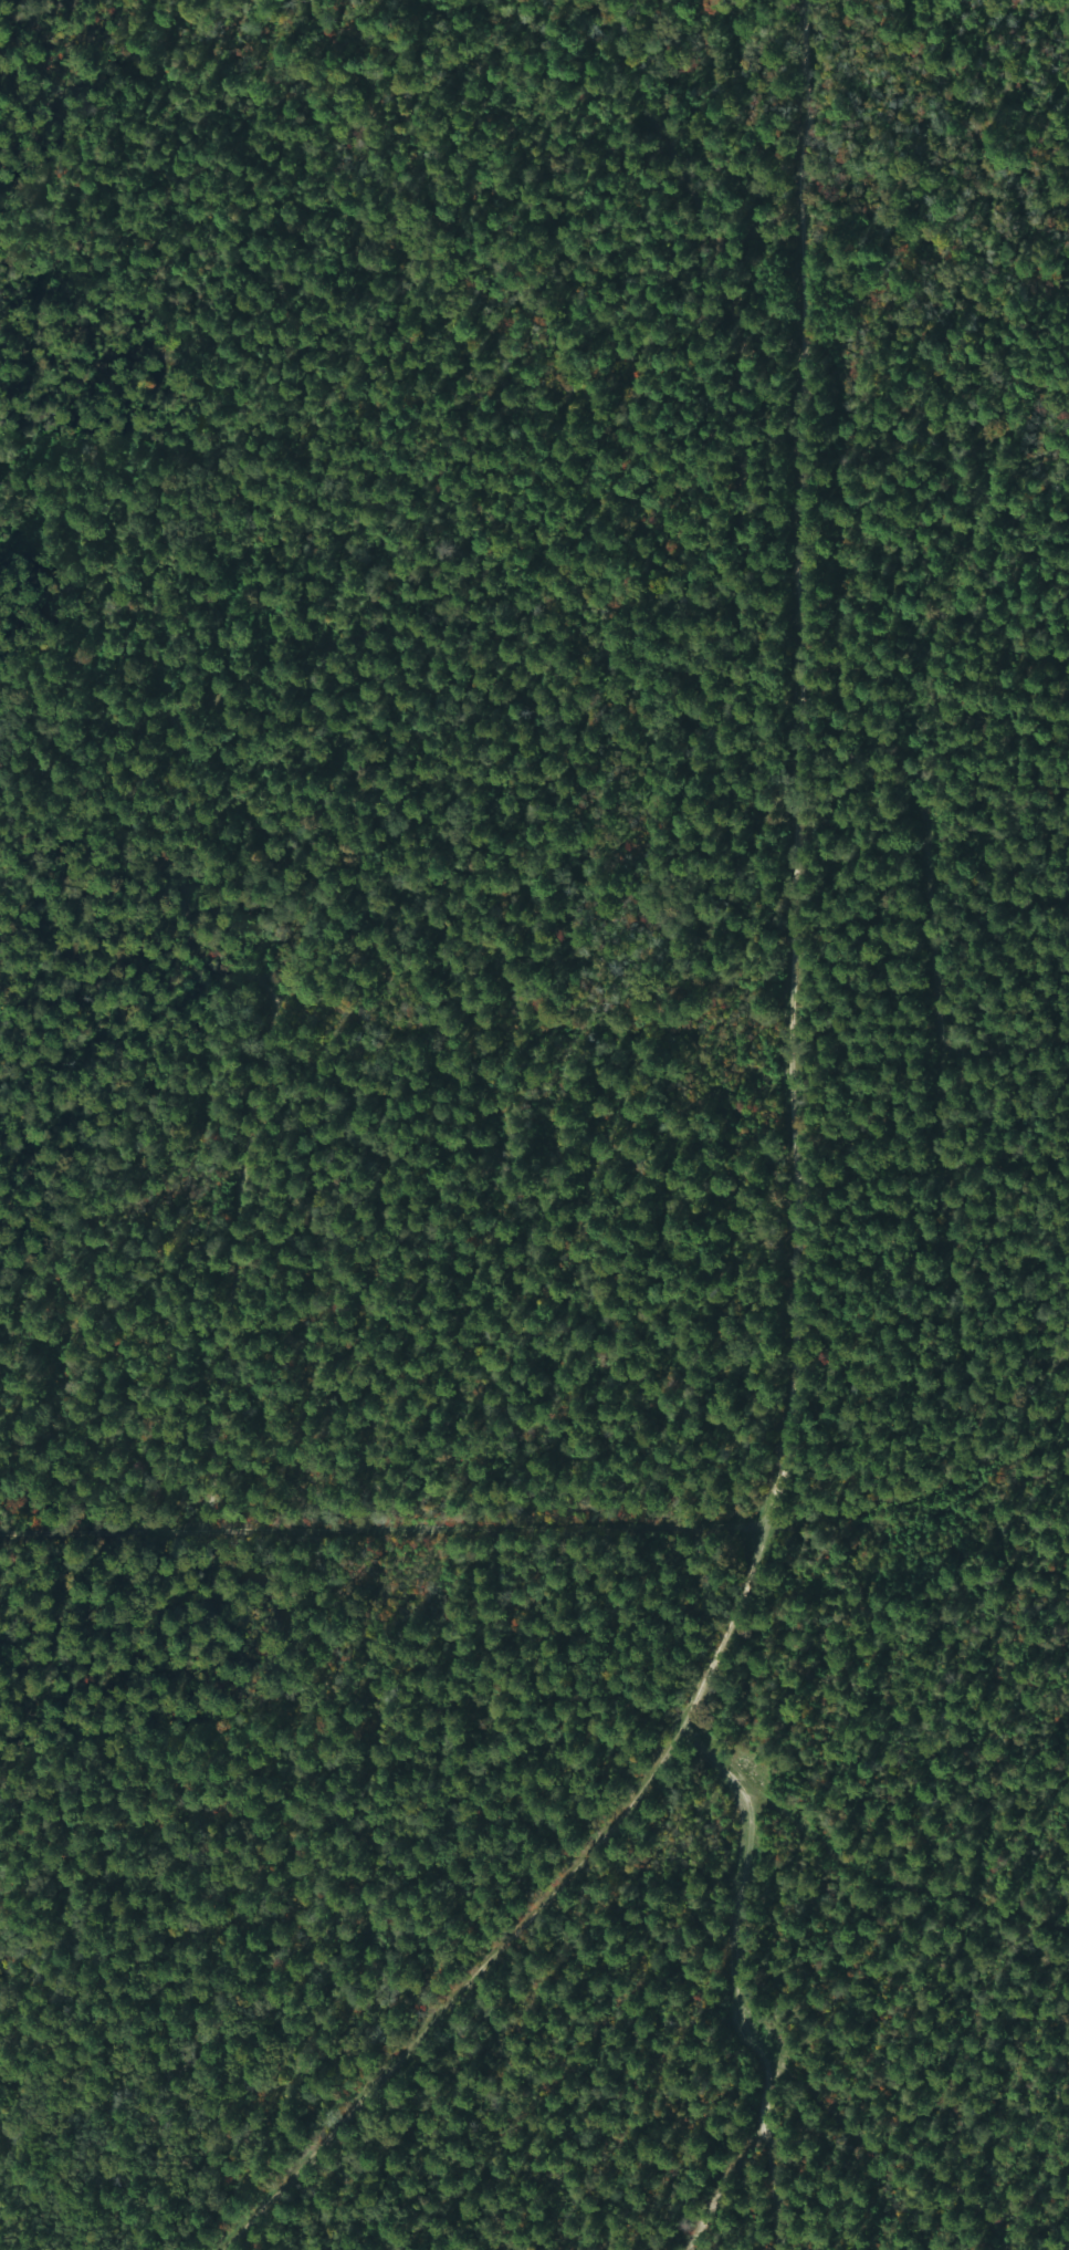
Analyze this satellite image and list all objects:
road: (786, 1219)
road: (360, 1537)

